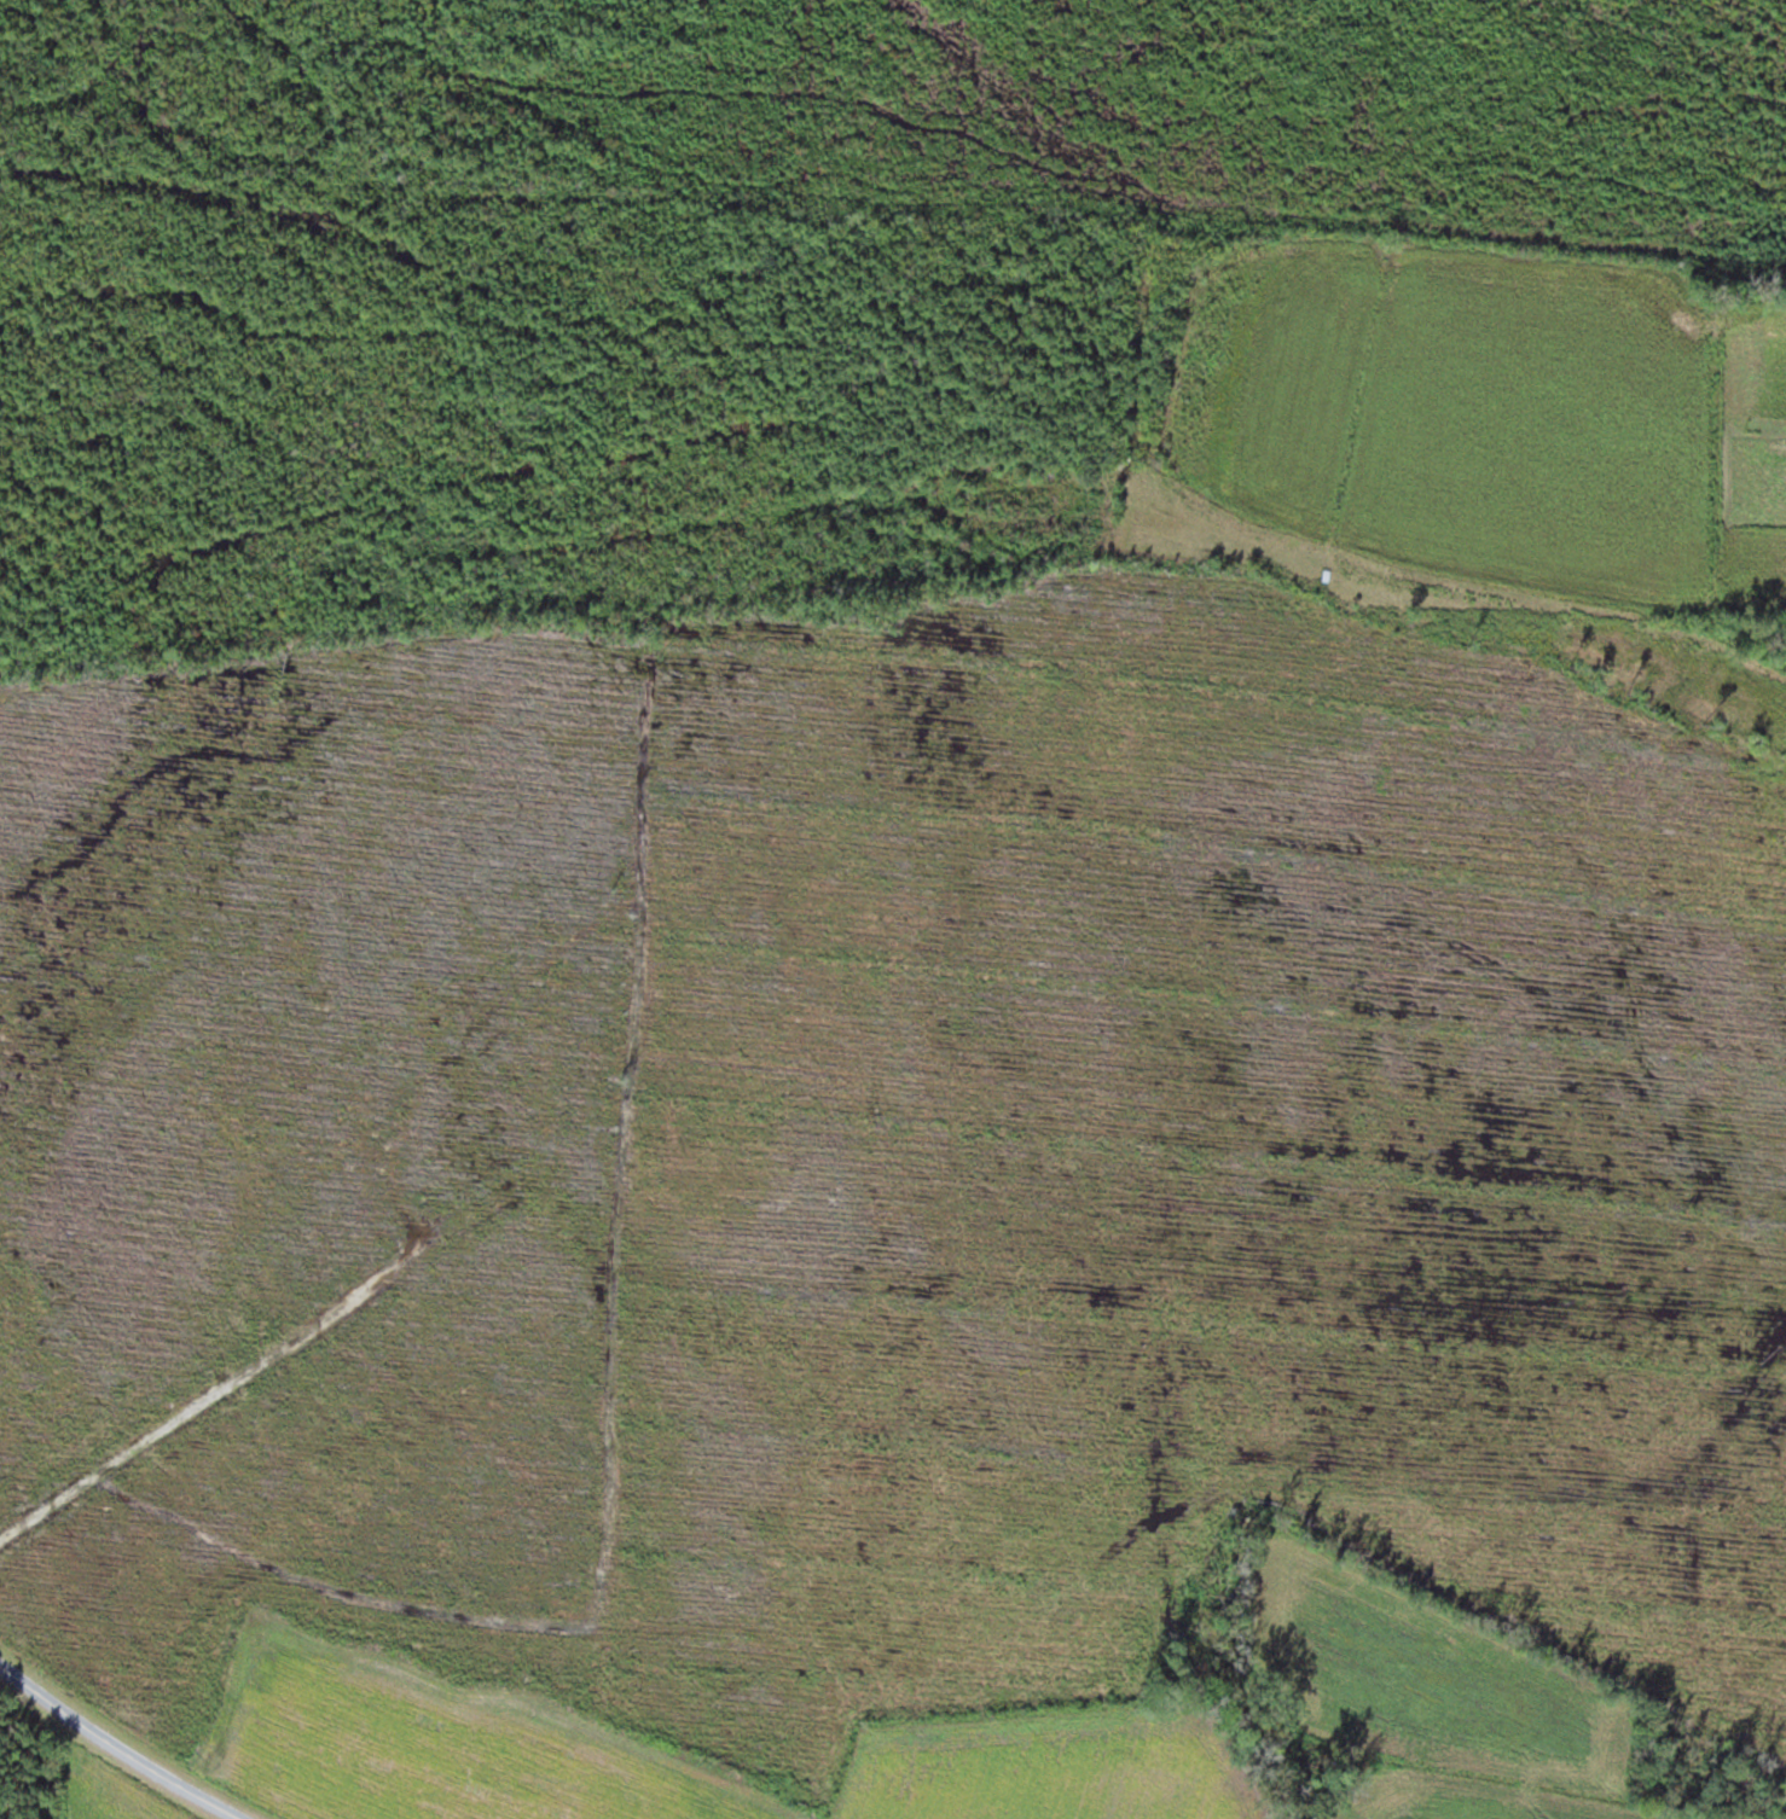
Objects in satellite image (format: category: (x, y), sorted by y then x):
road: (115, 1748)

